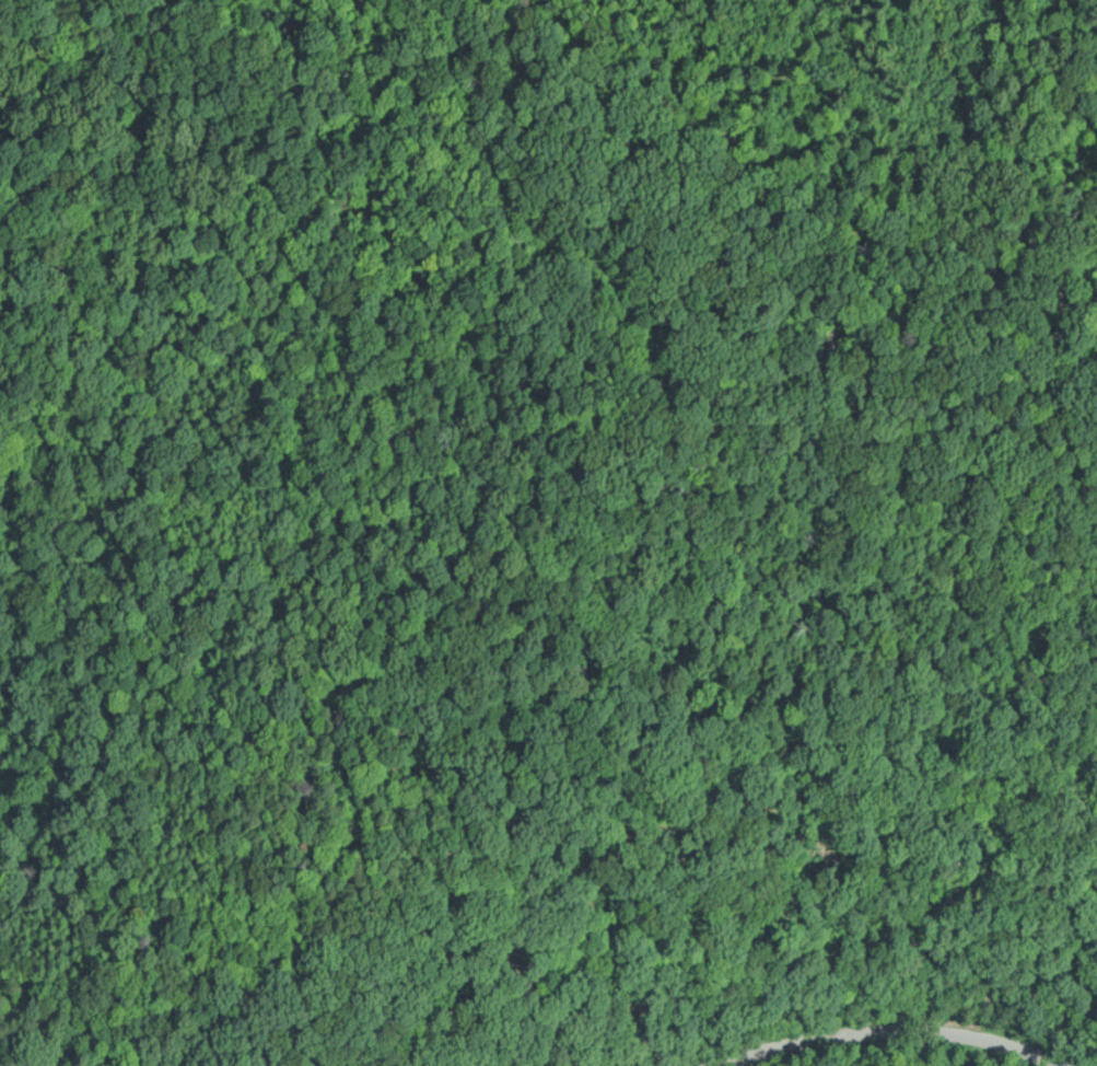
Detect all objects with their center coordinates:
road: (892, 1029)

